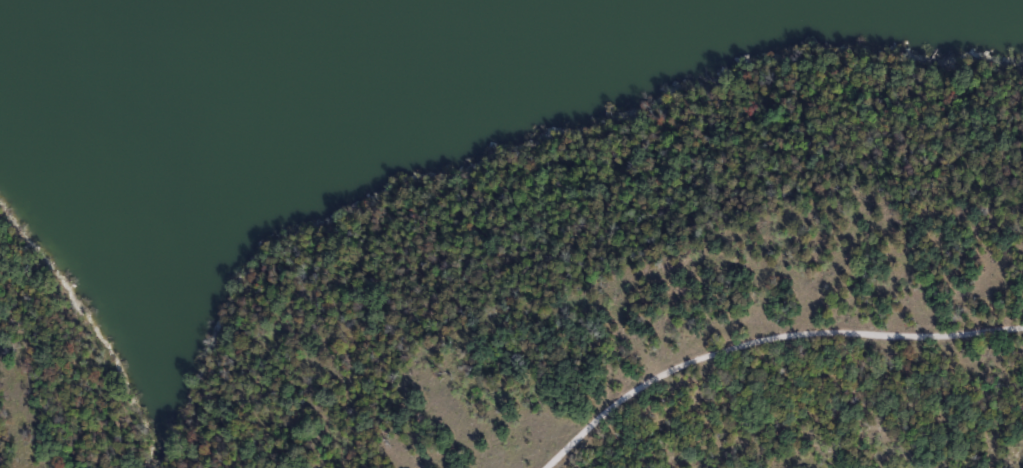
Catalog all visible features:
park: (511, 234)
road: (765, 338)

